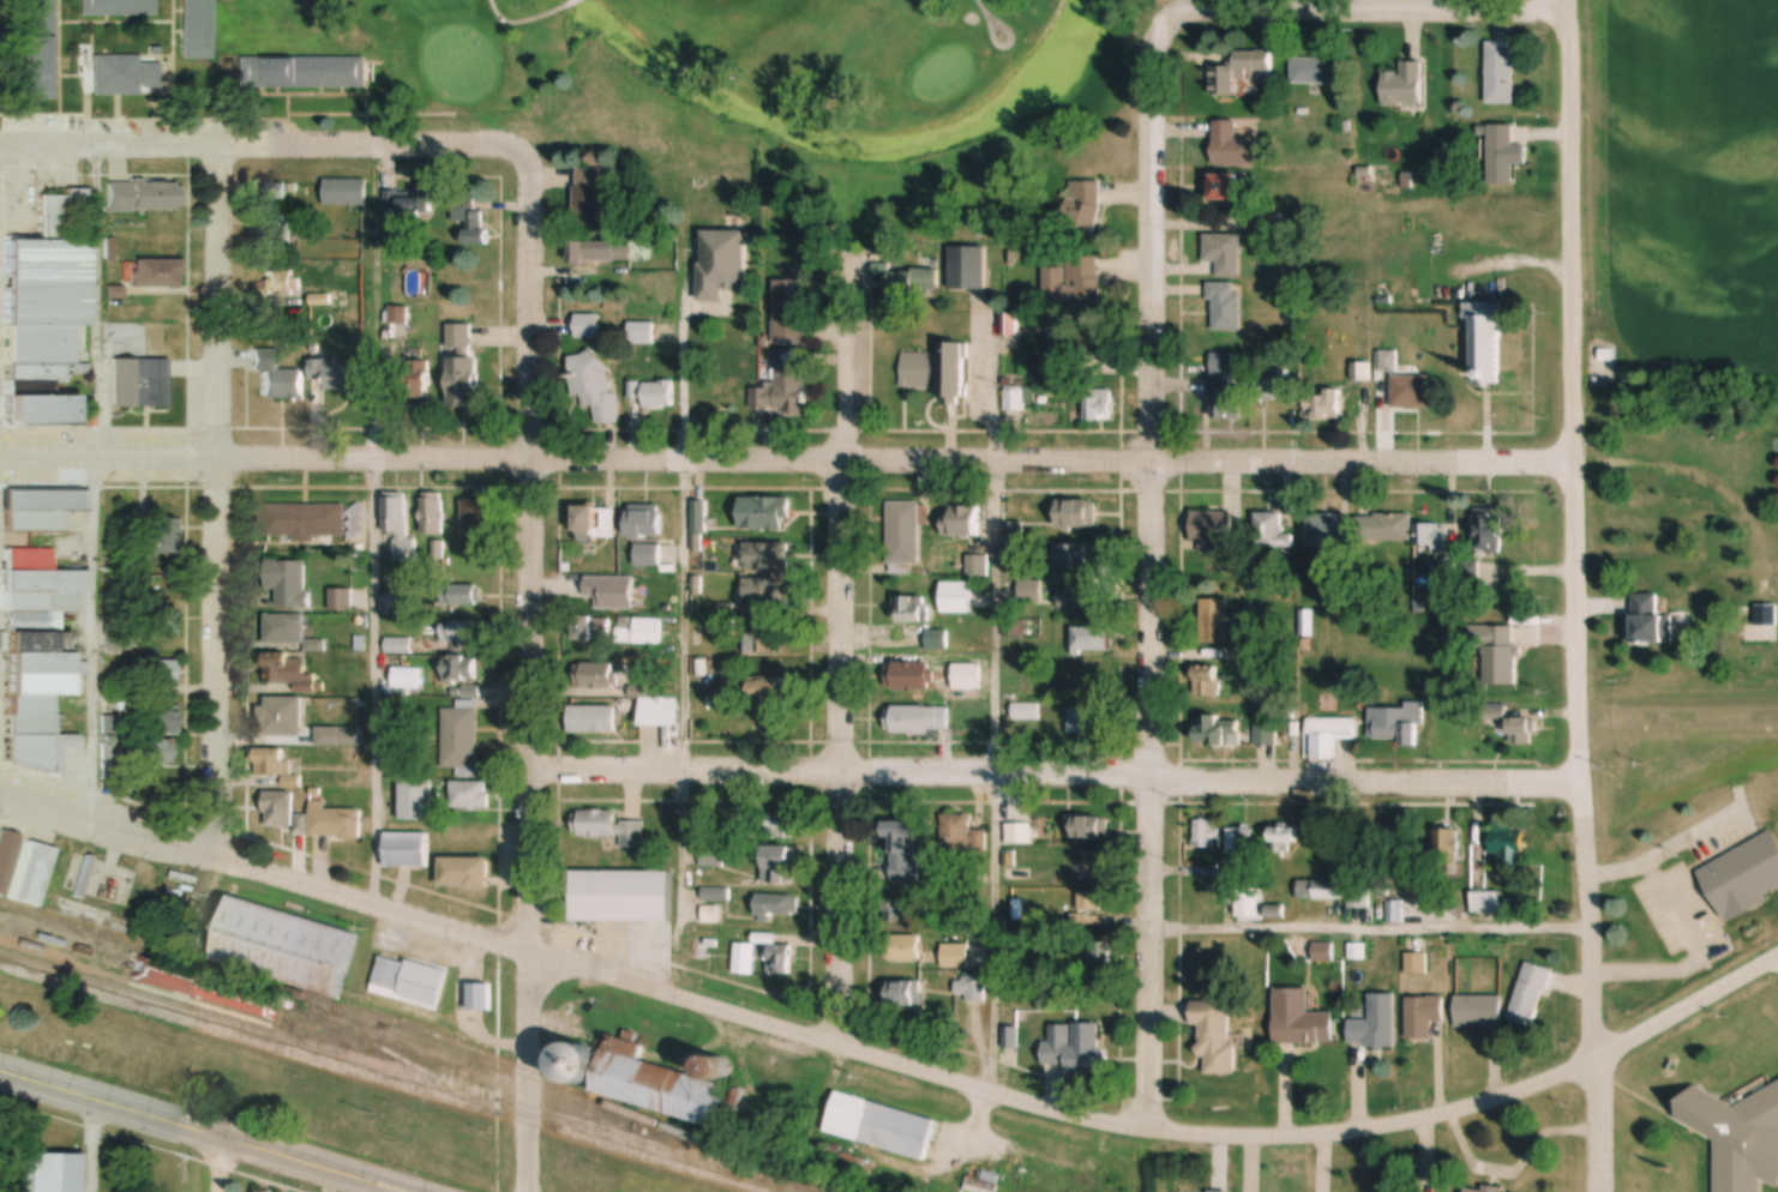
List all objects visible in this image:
road: (575, 1)
road: (1356, 5)
building: (118, 7)
building: (197, 29)
building: (40, 49)
park: (720, 53)
building: (1315, 70)
building: (1239, 71)
building: (301, 72)
building: (126, 73)
building: (1501, 73)
building: (1404, 85)
road: (264, 145)
building: (1233, 146)
building: (1503, 155)
building: (1227, 187)
building: (346, 193)
building: (157, 197)
building: (588, 197)
building: (118, 198)
building: (409, 204)
building: (1083, 207)
building: (276, 225)
building: (473, 225)
building: (603, 251)
building: (1224, 253)
building: (722, 264)
building: (967, 267)
building: (155, 273)
building: (913, 279)
building: (1074, 285)
building: (281, 288)
building: (46, 293)
building: (1226, 306)
building: (789, 311)
building: (641, 332)
building: (1485, 341)
building: (1074, 354)
building: (1388, 361)
building: (1605, 367)
building: (462, 368)
building: (937, 371)
road: (1575, 373)
building: (342, 377)
building: (277, 378)
building: (416, 381)
building: (1269, 381)
building: (143, 383)
building: (594, 384)
building: (787, 385)
building: (1221, 385)
building: (1412, 391)
building: (659, 396)
building: (1015, 398)
building: (1322, 405)
building: (1099, 409)
building: (36, 410)
road: (788, 463)
road: (96, 482)
road: (1705, 490)
road: (210, 500)
building: (41, 510)
road: (680, 513)
building: (431, 514)
building: (765, 514)
building: (1077, 514)
road: (834, 516)
building: (305, 520)
building: (961, 520)
building: (644, 522)
building: (476, 523)
building: (595, 523)
building: (398, 526)
building: (1384, 528)
road: (371, 529)
building: (1273, 530)
building: (1327, 530)
building: (1212, 531)
building: (1489, 531)
building: (903, 532)
building: (156, 537)
building: (1435, 538)
building: (647, 555)
building: (762, 555)
building: (1083, 555)
road: (523, 560)
building: (288, 583)
road: (1149, 586)
building: (1031, 590)
building: (607, 592)
building: (765, 594)
building: (459, 595)
building: (956, 597)
building: (1076, 597)
building: (341, 601)
building: (909, 608)
building: (1214, 621)
building: (1654, 622)
building: (156, 624)
building: (283, 630)
building: (593, 630)
building: (458, 632)
building: (639, 632)
building: (1760, 633)
building: (764, 638)
building: (1091, 639)
building: (398, 646)
building: (35, 655)
building: (1501, 656)
building: (459, 669)
building: (158, 672)
building: (290, 674)
building: (597, 675)
building: (909, 676)
building: (967, 676)
building: (408, 679)
building: (1207, 680)
building: (767, 693)
building: (659, 711)
building: (1023, 711)
building: (281, 717)
building: (158, 718)
building: (591, 720)
building: (919, 720)
building: (1085, 720)
building: (1400, 724)
building: (1219, 730)
building: (1522, 733)
building: (1266, 734)
building: (1328, 735)
building: (337, 738)
building: (459, 739)
building: (158, 754)
building: (277, 767)
road: (1051, 777)
road: (989, 781)
building: (470, 795)
building: (415, 800)
building: (278, 811)
building: (334, 823)
building: (780, 826)
building: (611, 829)
building: (1089, 829)
building: (1017, 833)
building: (960, 835)
building: (1206, 835)
building: (899, 836)
building: (1284, 837)
building: (1242, 843)
building: (1508, 847)
building: (406, 851)
building: (1447, 853)
building: (779, 866)
building: (1097, 866)
building: (464, 874)
building: (1743, 878)
road: (681, 886)
building: (1320, 890)
building: (621, 893)
building: (710, 896)
building: (1359, 897)
road: (1586, 901)
building: (1089, 903)
building: (1486, 903)
building: (775, 905)
building: (897, 910)
road: (836, 913)
road: (1366, 927)
building: (284, 947)
building: (905, 949)
building: (954, 956)
building: (779, 959)
building: (1416, 964)
building: (409, 981)
building: (971, 988)
building: (905, 994)
building: (1531, 995)
building: (233, 998)
building: (480, 998)
road: (1687, 1006)
building: (1478, 1012)
building: (1423, 1017)
building: (1299, 1019)
building: (1376, 1024)
road: (524, 1035)
building: (1215, 1035)
road: (793, 1037)
building: (1076, 1050)
building: (577, 1065)
building: (656, 1085)
road: (1599, 1122)
building: (885, 1126)
road: (203, 1130)
building: (1737, 1136)
road: (527, 1152)
road: (220, 1163)
road: (1514, 1170)
road: (372, 1187)
building: (1473, 1191)

